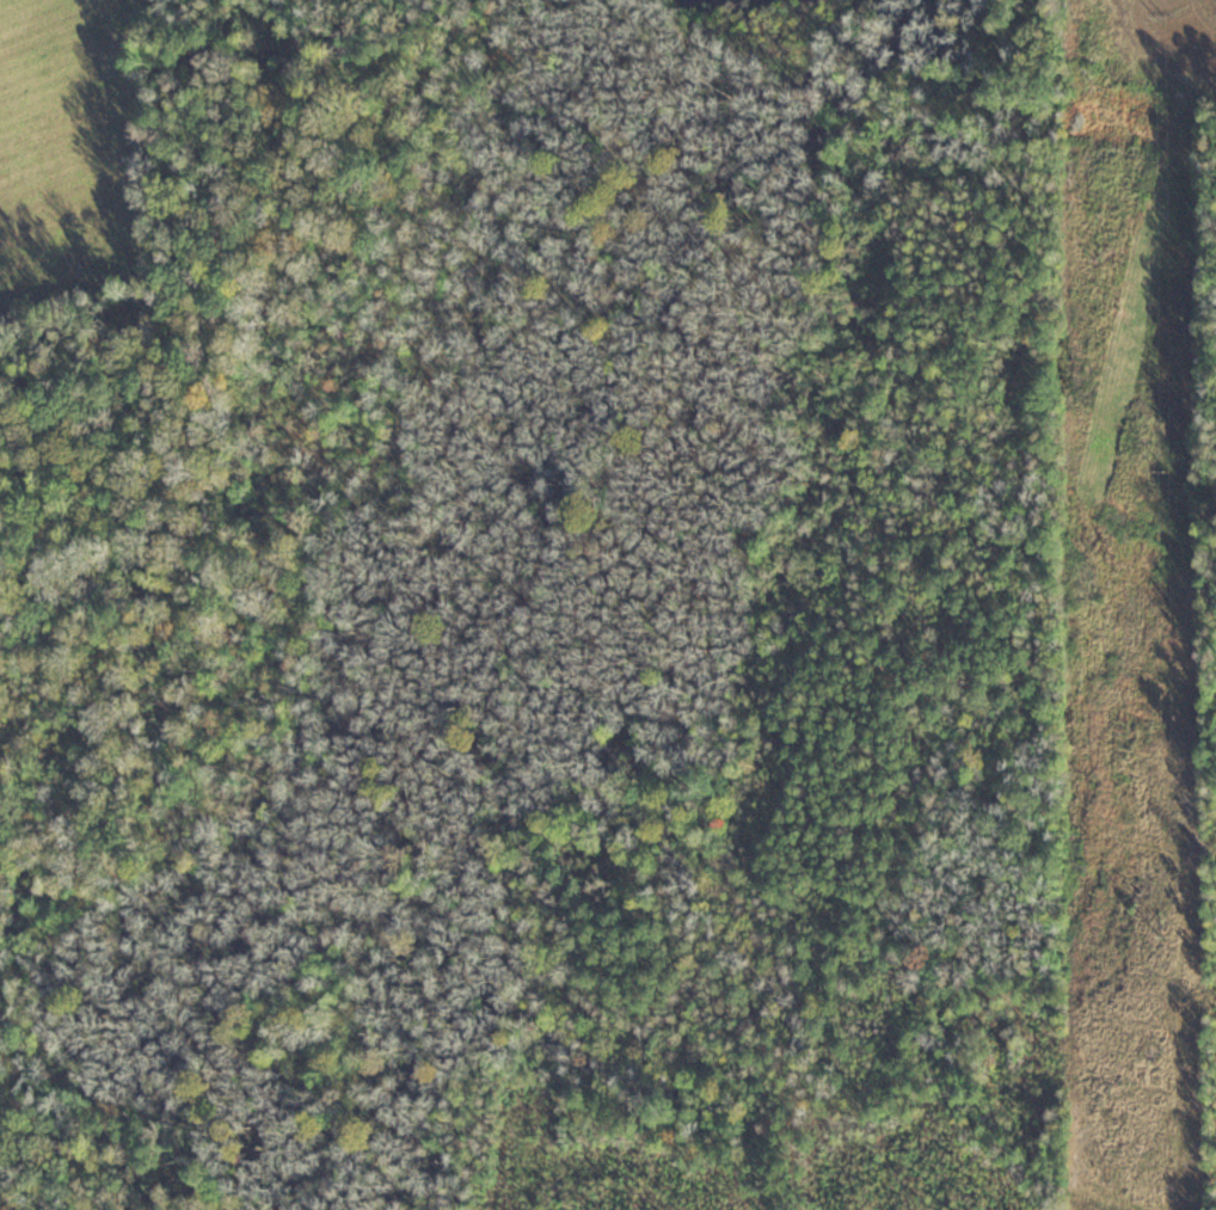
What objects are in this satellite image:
power tower: (1163, 16)
power tower: (1168, 473)
power tower: (1168, 934)

